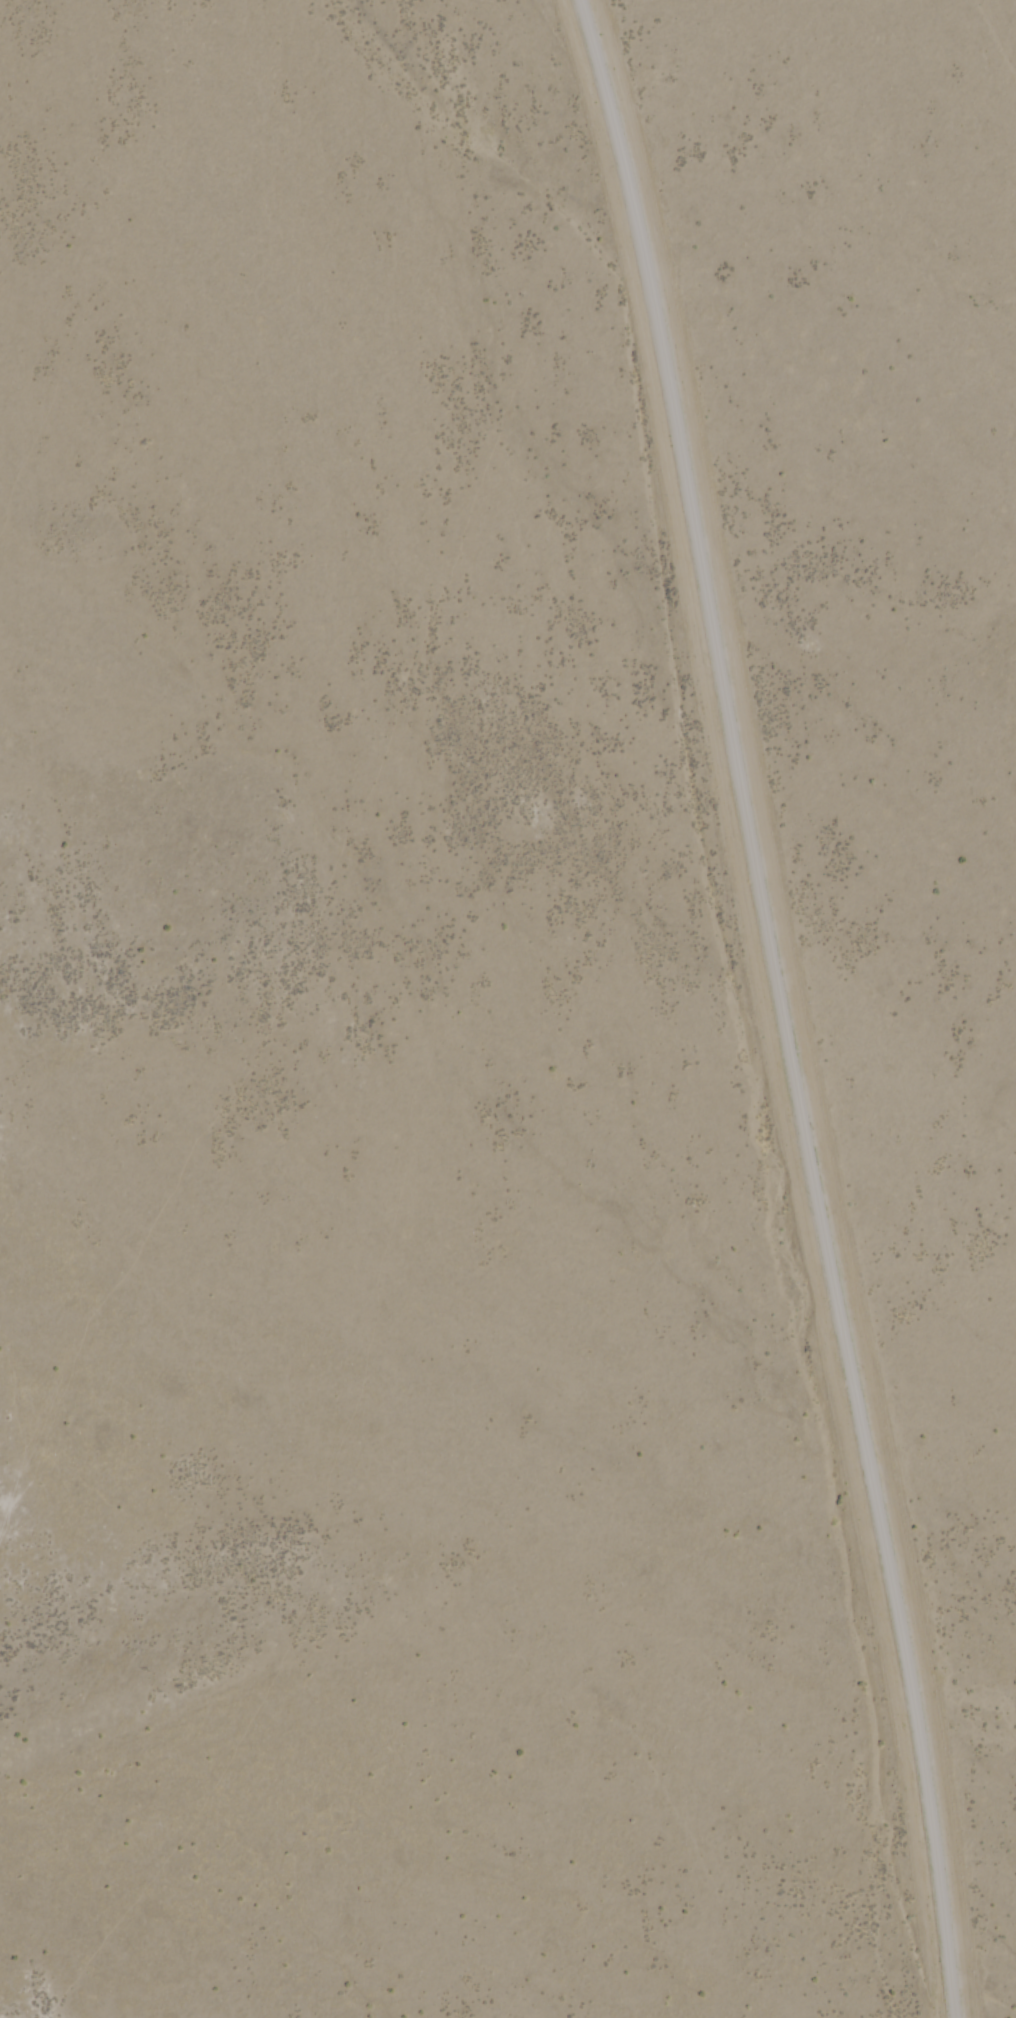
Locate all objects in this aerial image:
road: (783, 1006)

